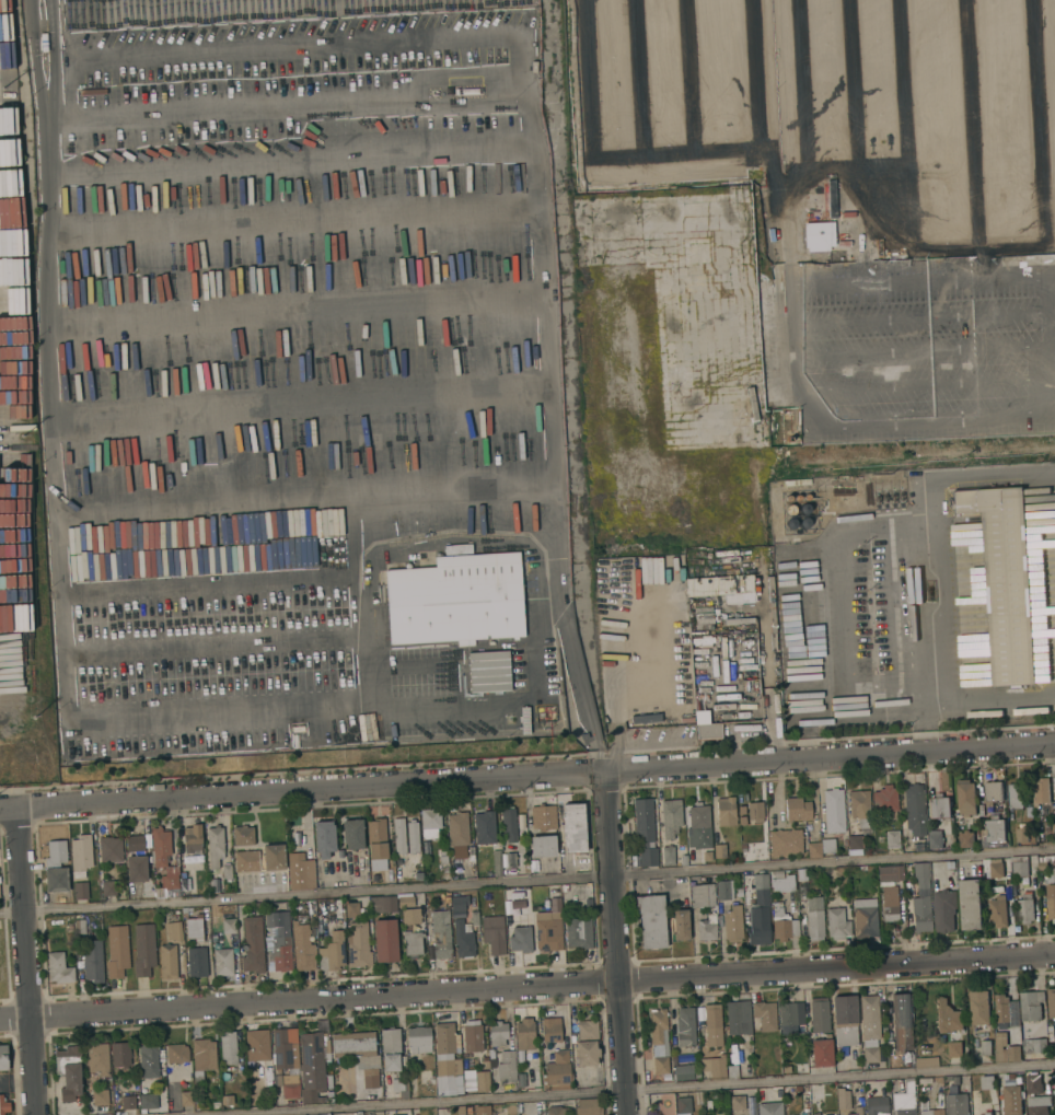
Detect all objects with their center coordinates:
road: (362, 3)
building: (308, 9)
building: (738, 24)
building: (670, 84)
building: (588, 97)
building: (592, 120)
road: (520, 146)
road: (772, 150)
building: (588, 166)
building: (827, 199)
road: (295, 216)
building: (819, 235)
building: (999, 242)
building: (921, 244)
building: (854, 254)
building: (899, 254)
road: (298, 306)
road: (801, 348)
road: (301, 404)
building: (798, 497)
building: (807, 497)
building: (788, 498)
building: (804, 509)
road: (132, 510)
building: (790, 510)
building: (805, 522)
building: (791, 523)
building: (457, 550)
road: (926, 553)
road: (837, 559)
building: (1006, 580)
building: (720, 586)
building: (456, 600)
road: (992, 695)
building: (688, 707)
building: (673, 721)
building: (712, 723)
road: (775, 728)
road: (527, 777)
building: (993, 792)
building: (1044, 793)
building: (1016, 795)
building: (966, 798)
building: (885, 801)
building: (939, 806)
building: (859, 808)
building: (797, 810)
building: (833, 811)
building: (724, 812)
building: (755, 812)
building: (1010, 814)
building: (914, 815)
building: (543, 817)
building: (670, 817)
building: (642, 821)
building: (430, 823)
building: (509, 825)
building: (698, 827)
building: (457, 828)
building: (484, 828)
building: (573, 828)
building: (352, 834)
building: (243, 835)
building: (994, 835)
building: (1021, 835)
building: (398, 836)
building: (192, 837)
building: (413, 837)
building: (324, 838)
building: (376, 839)
building: (892, 839)
building: (965, 839)
building: (935, 841)
building: (134, 843)
building: (785, 843)
building: (854, 843)
building: (215, 846)
building: (542, 846)
building: (820, 848)
building: (109, 849)
building: (719, 850)
building: (80, 855)
building: (668, 856)
building: (707, 856)
building: (273, 857)
building: (648, 857)
building: (442, 858)
building: (699, 858)
building: (1052, 858)
building: (246, 861)
building: (510, 861)
building: (683, 861)
building: (496, 862)
building: (1042, 862)
building: (164, 863)
building: (1019, 867)
building: (56, 868)
building: (136, 869)
building: (227, 871)
building: (302, 871)
building: (920, 871)
building: (801, 874)
building: (889, 874)
building: (1054, 874)
road: (526, 881)
building: (760, 881)
building: (782, 883)
building: (185, 884)
building: (1007, 886)
building: (564, 887)
building: (108, 888)
building: (223, 888)
building: (723, 890)
building: (80, 891)
building: (702, 895)
building: (405, 902)
building: (1051, 902)
building: (459, 903)
building: (890, 904)
building: (971, 904)
building: (382, 905)
building: (1025, 908)
building: (351, 909)
building: (944, 910)
building: (920, 911)
building: (410, 916)
building: (159, 917)
building: (865, 917)
building: (474, 918)
building: (814, 919)
building: (213, 920)
building: (651, 920)
building: (732, 924)
building: (836, 924)
building: (680, 925)
building: (757, 925)
building: (780, 925)
building: (80, 926)
building: (229, 926)
building: (706, 928)
building: (194, 929)
building: (793, 929)
building: (174, 931)
building: (548, 931)
building: (578, 932)
building: (494, 933)
building: (441, 934)
building: (463, 939)
building: (278, 940)
building: (520, 940)
building: (385, 941)
building: (411, 943)
road: (614, 943)
building: (252, 945)
building: (358, 945)
building: (302, 948)
building: (143, 949)
building: (117, 951)
building: (332, 952)
road: (24, 961)
building: (92, 961)
building: (167, 962)
building: (197, 962)
building: (222, 962)
building: (58, 968)
road: (526, 985)
building: (1051, 1003)
building: (1031, 1006)
building: (978, 1008)
building: (1006, 1012)
building: (764, 1015)
building: (819, 1015)
building: (789, 1017)
building: (948, 1017)
building: (738, 1018)
building: (869, 1018)
building: (844, 1020)
building: (901, 1022)
building: (712, 1025)
building: (685, 1026)
building: (1025, 1027)
building: (550, 1030)
building: (497, 1033)
building: (524, 1034)
building: (472, 1036)
building: (444, 1038)
building: (418, 1039)
building: (587, 1043)
building: (660, 1043)
building: (257, 1045)
building: (1034, 1045)
building: (283, 1047)
building: (986, 1047)
building: (228, 1048)
building: (390, 1049)
building: (954, 1049)
building: (1005, 1049)
building: (821, 1052)
building: (120, 1054)
building: (176, 1054)
building: (358, 1054)
building: (870, 1055)
building: (3, 1057)
building: (905, 1057)
building: (97, 1058)
building: (202, 1058)
building: (685, 1058)
building: (148, 1059)
building: (314, 1060)
building: (489, 1060)
building: (926, 1062)
building: (448, 1066)
building: (714, 1066)
building: (503, 1068)
building: (558, 1069)
building: (69, 1071)
building: (683, 1072)
building: (732, 1072)
building: (696, 1073)
building: (1009, 1076)
building: (1054, 1078)
building: (277, 1080)
building: (522, 1080)
building: (482, 1081)
building: (987, 1082)
building: (1033, 1083)
building: (290, 1087)
building: (401, 1088)
road: (642, 1089)
building: (798, 1089)
building: (185, 1092)
building: (903, 1096)
building: (100, 1097)
building: (843, 1099)
building: (227, 1100)
building: (321, 1100)
building: (1012, 1100)
building: (149, 1101)
building: (128, 1102)
building: (197, 1103)
building: (737, 1103)
park: (661, 1104)
building: (957, 1104)
building: (1037, 1104)
building: (3, 1105)
building: (216, 1105)
building: (682, 1105)
building: (708, 1105)
building: (877, 1105)
building: (589, 1106)
building: (769, 1108)
building: (460, 1110)
building: (931, 1110)
building: (482, 1111)
building: (557, 1111)
building: (856, 1111)
building: (803, 1113)
building: (987, 1113)

